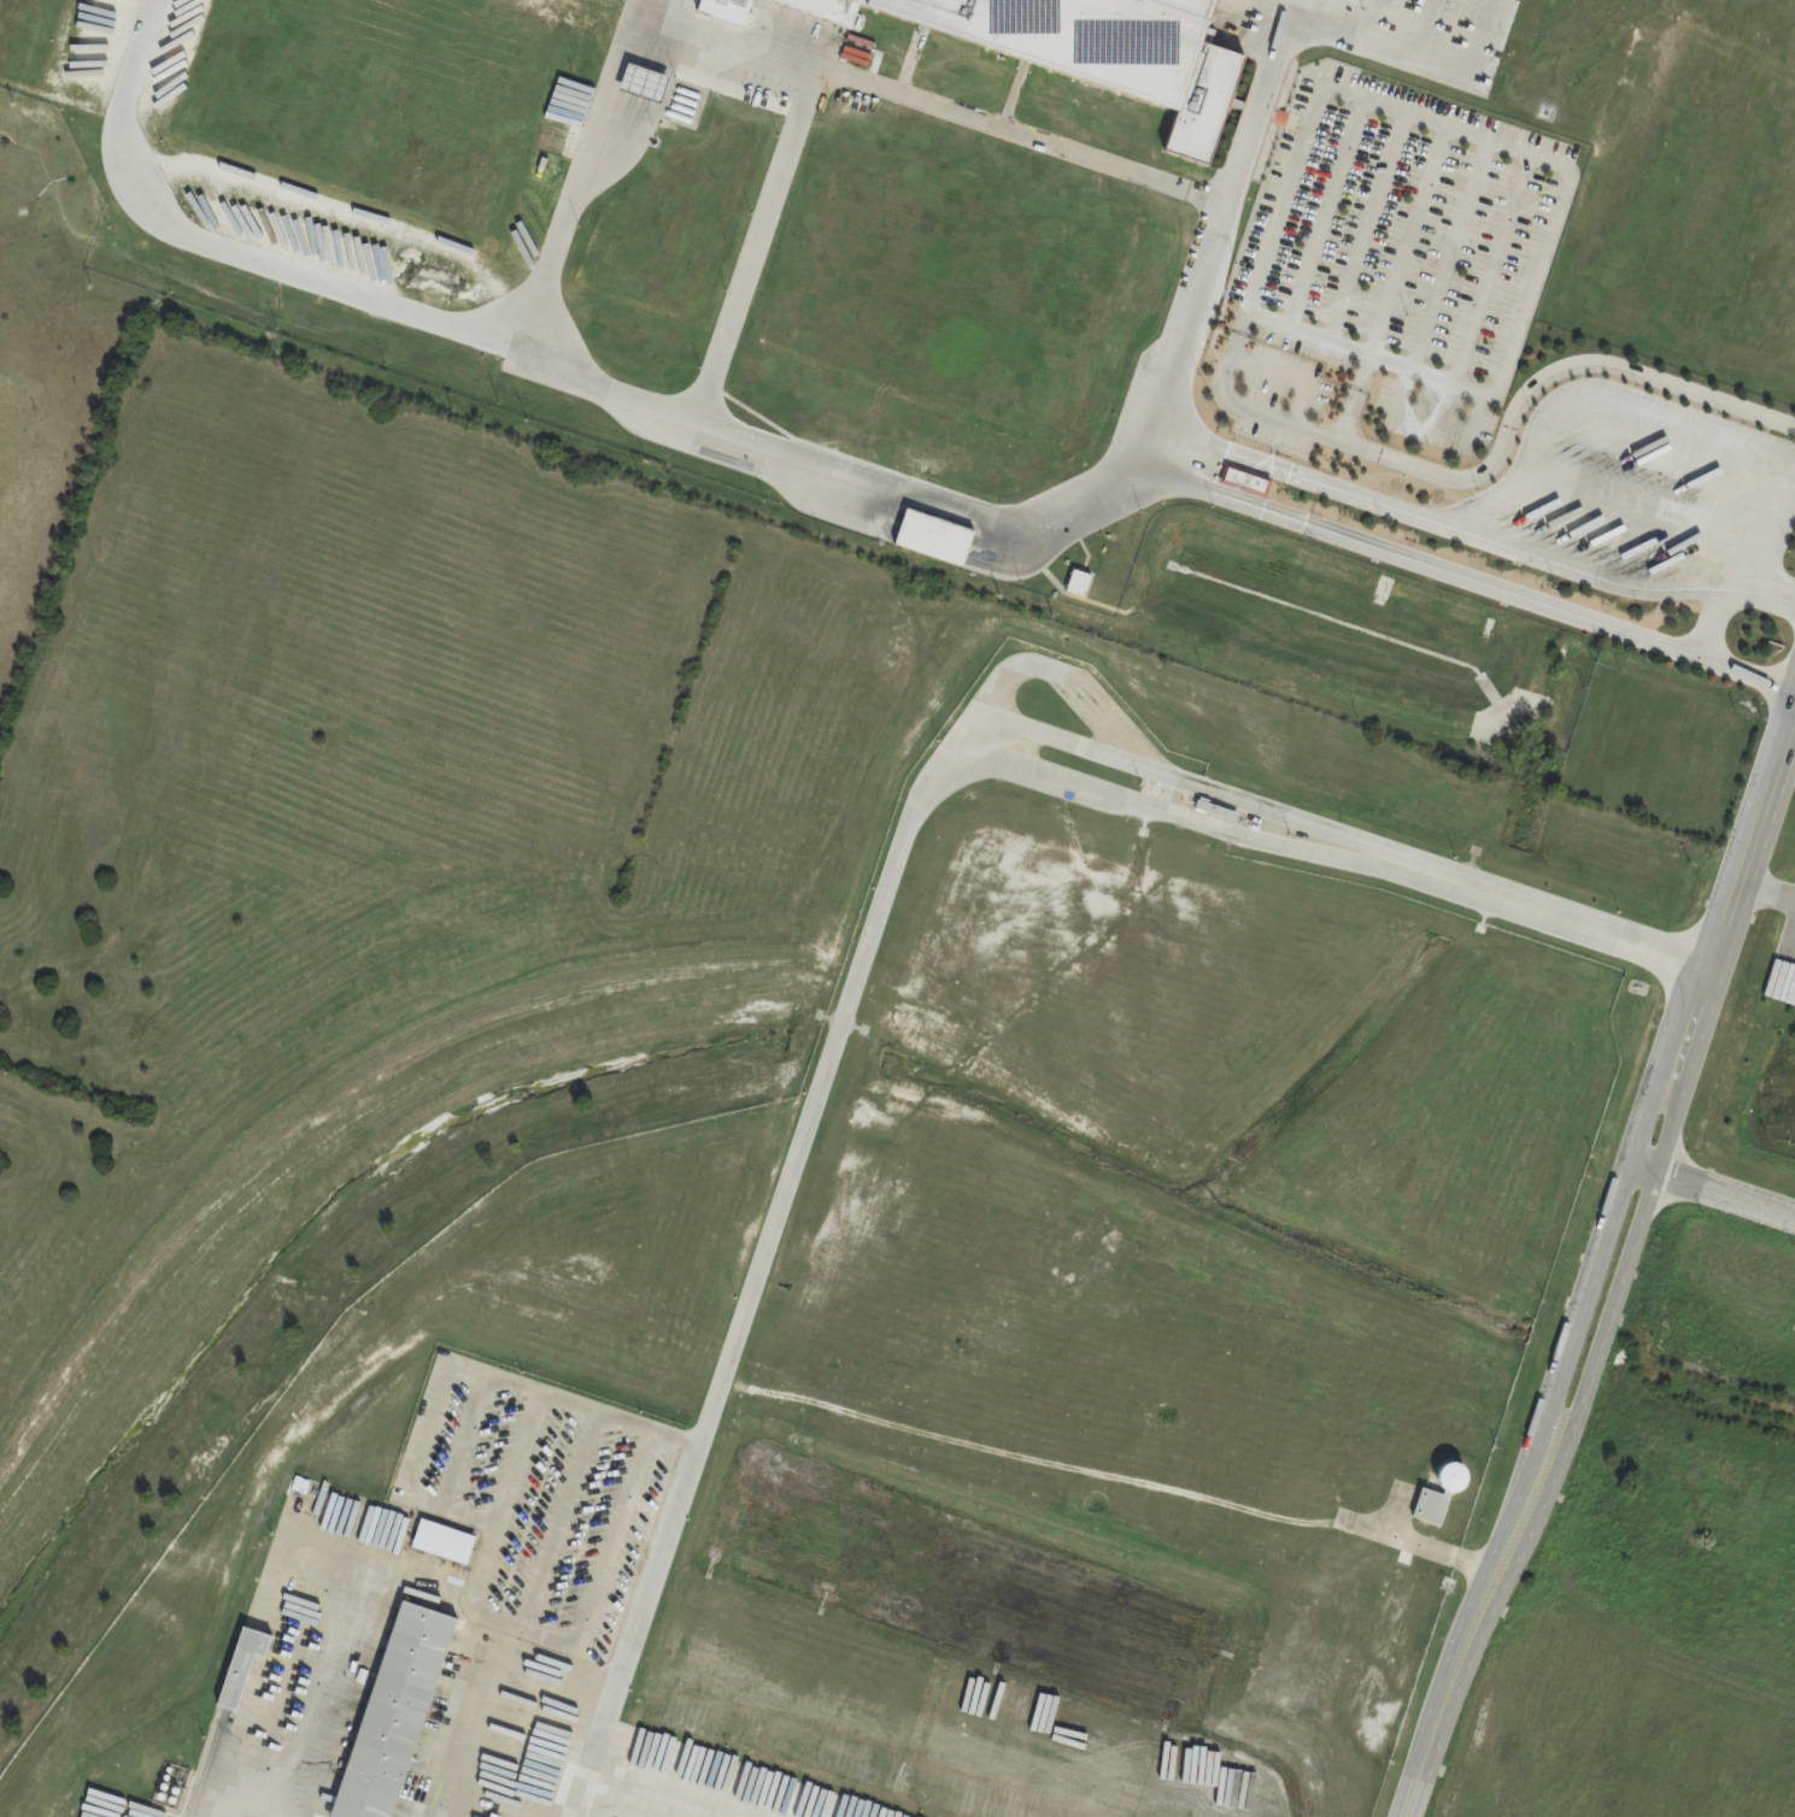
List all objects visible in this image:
building: (847, 8)
building: (1066, 35)
road: (774, 55)
building: (1209, 69)
road: (1221, 235)
road: (540, 361)
road: (1535, 411)
building: (1248, 481)
building: (931, 537)
road: (1471, 581)
building: (1078, 583)
road: (991, 751)
road: (1787, 774)
road: (1744, 870)
road: (1767, 890)
road: (1725, 1199)
road: (1599, 1241)
road: (1629, 1252)
road: (424, 1474)
building: (1444, 1477)
road: (400, 1578)
road: (1468, 1635)
road: (626, 1653)
building: (388, 1712)
road: (577, 1799)
road: (210, 1811)

